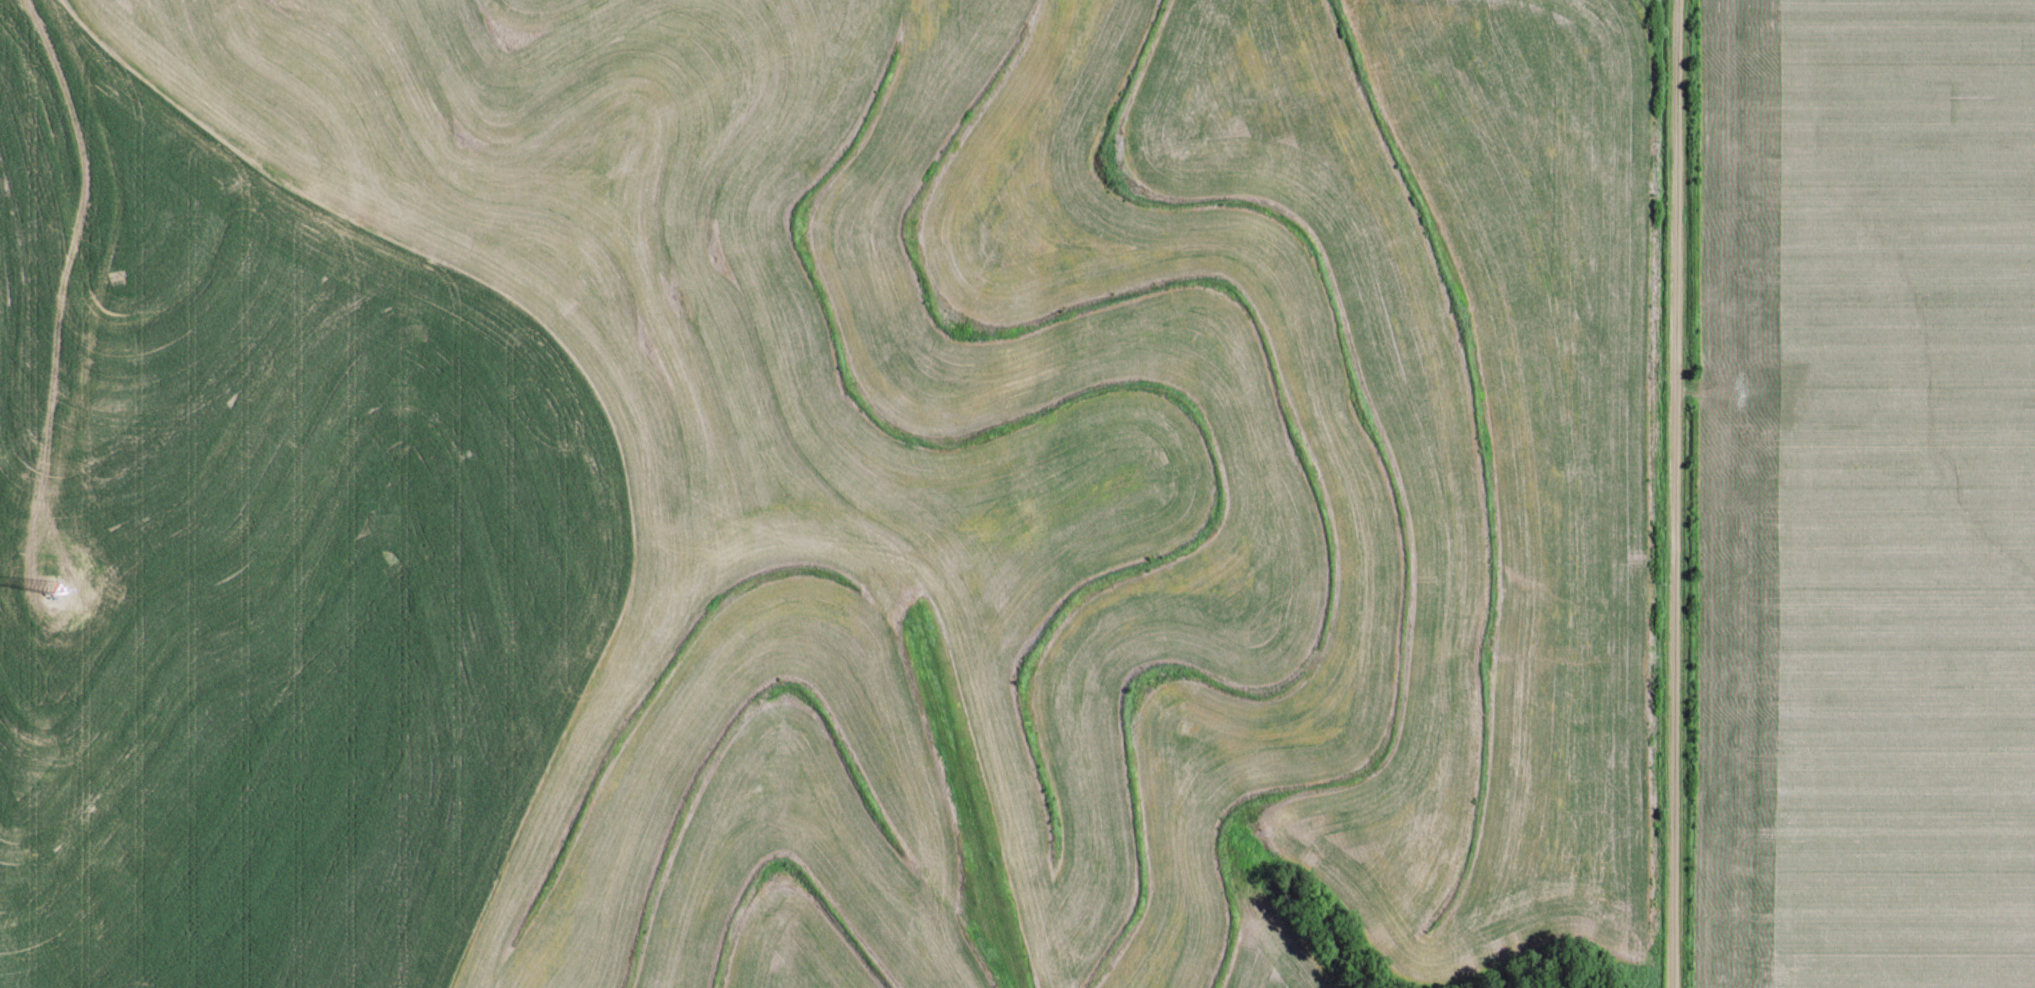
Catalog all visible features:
road: (1672, 494)

